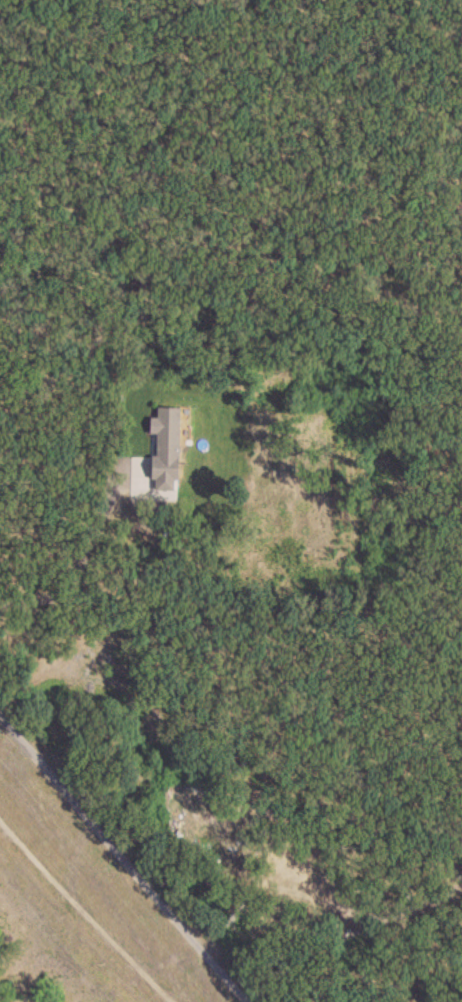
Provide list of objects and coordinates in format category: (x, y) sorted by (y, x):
building: (169, 448)
road: (72, 572)
road: (124, 857)

